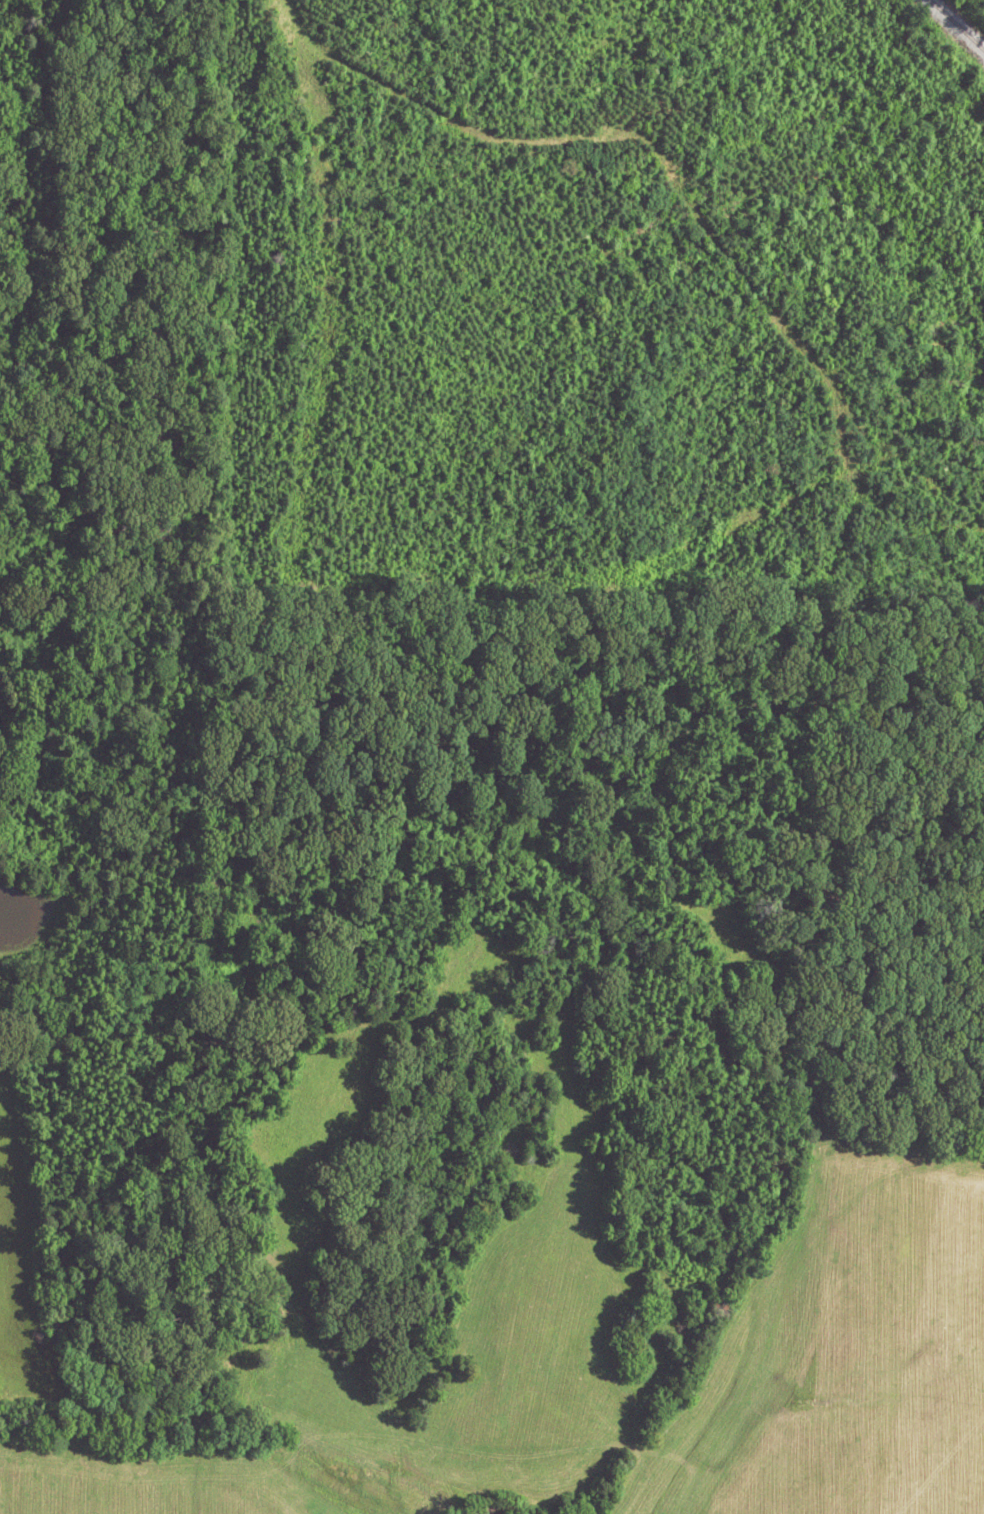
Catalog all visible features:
railway: (957, 25)

